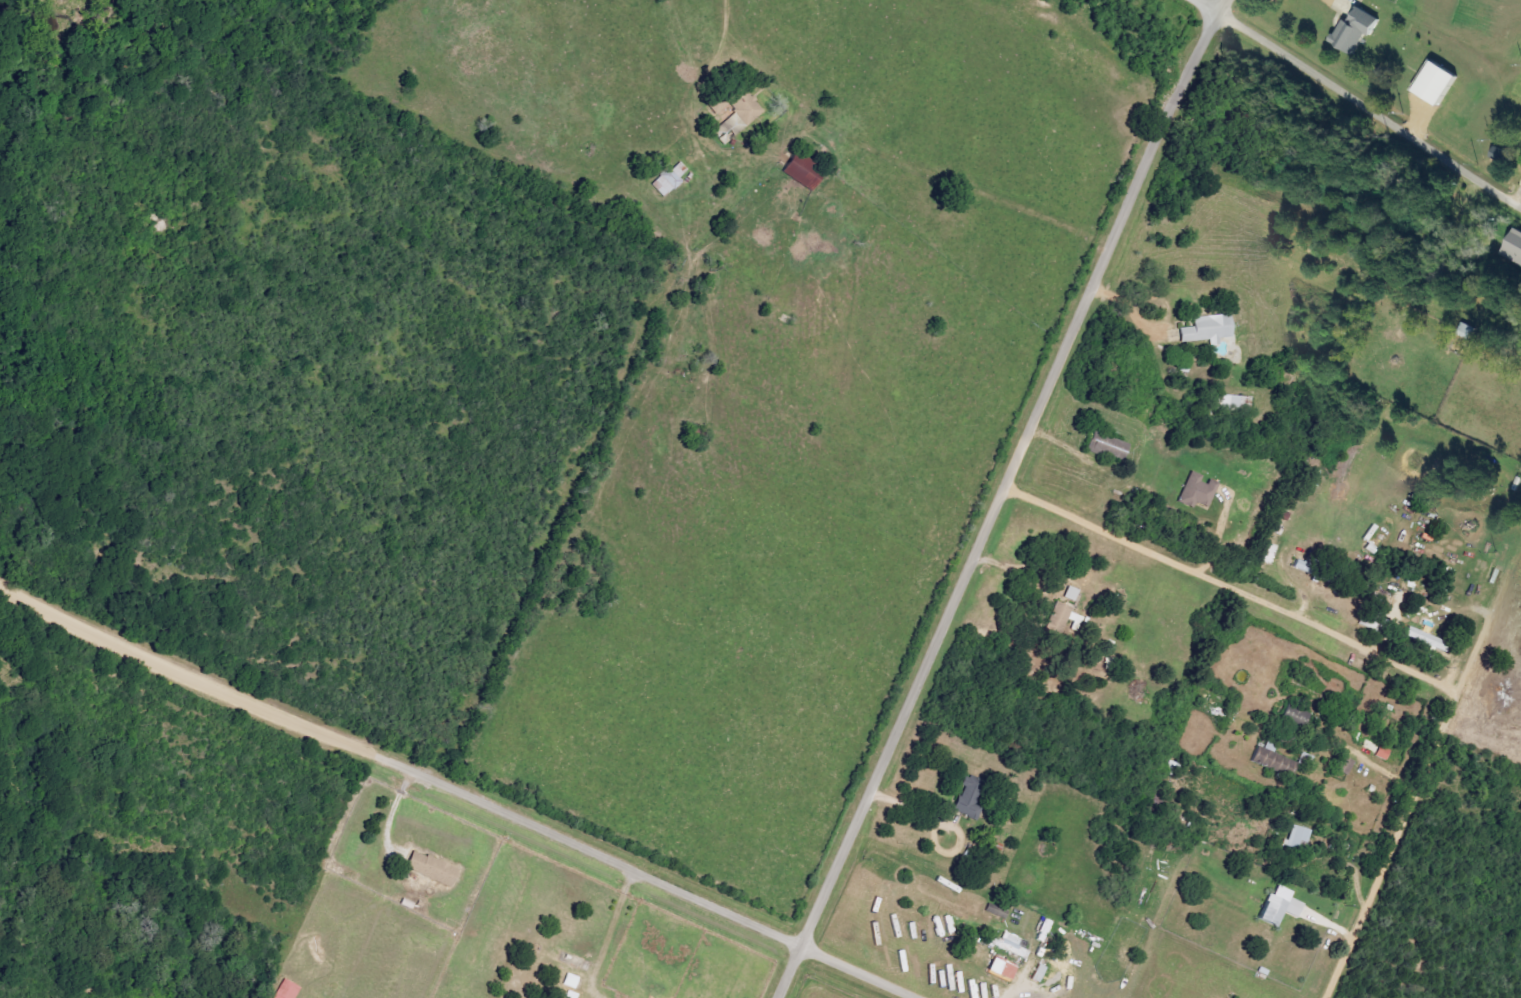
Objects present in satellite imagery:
road: (1203, 5)
road: (1218, 5)
building: (1361, 30)
road: (723, 32)
building: (1433, 83)
road: (1368, 106)
building: (741, 118)
building: (806, 172)
building: (672, 179)
building: (1513, 245)
building: (1205, 329)
building: (1228, 403)
building: (1104, 445)
road: (1001, 472)
building: (1194, 491)
building: (1267, 553)
road: (1010, 566)
road: (1226, 590)
road: (43, 605)
building: (1056, 621)
building: (1418, 637)
building: (1292, 715)
building: (1270, 760)
building: (965, 800)
road: (1410, 803)
road: (499, 809)
road: (393, 810)
road: (942, 826)
building: (1296, 836)
building: (435, 868)
building: (1275, 907)
road: (609, 932)
building: (1010, 944)
road: (788, 969)
building: (996, 969)
building: (573, 980)
building: (288, 989)

